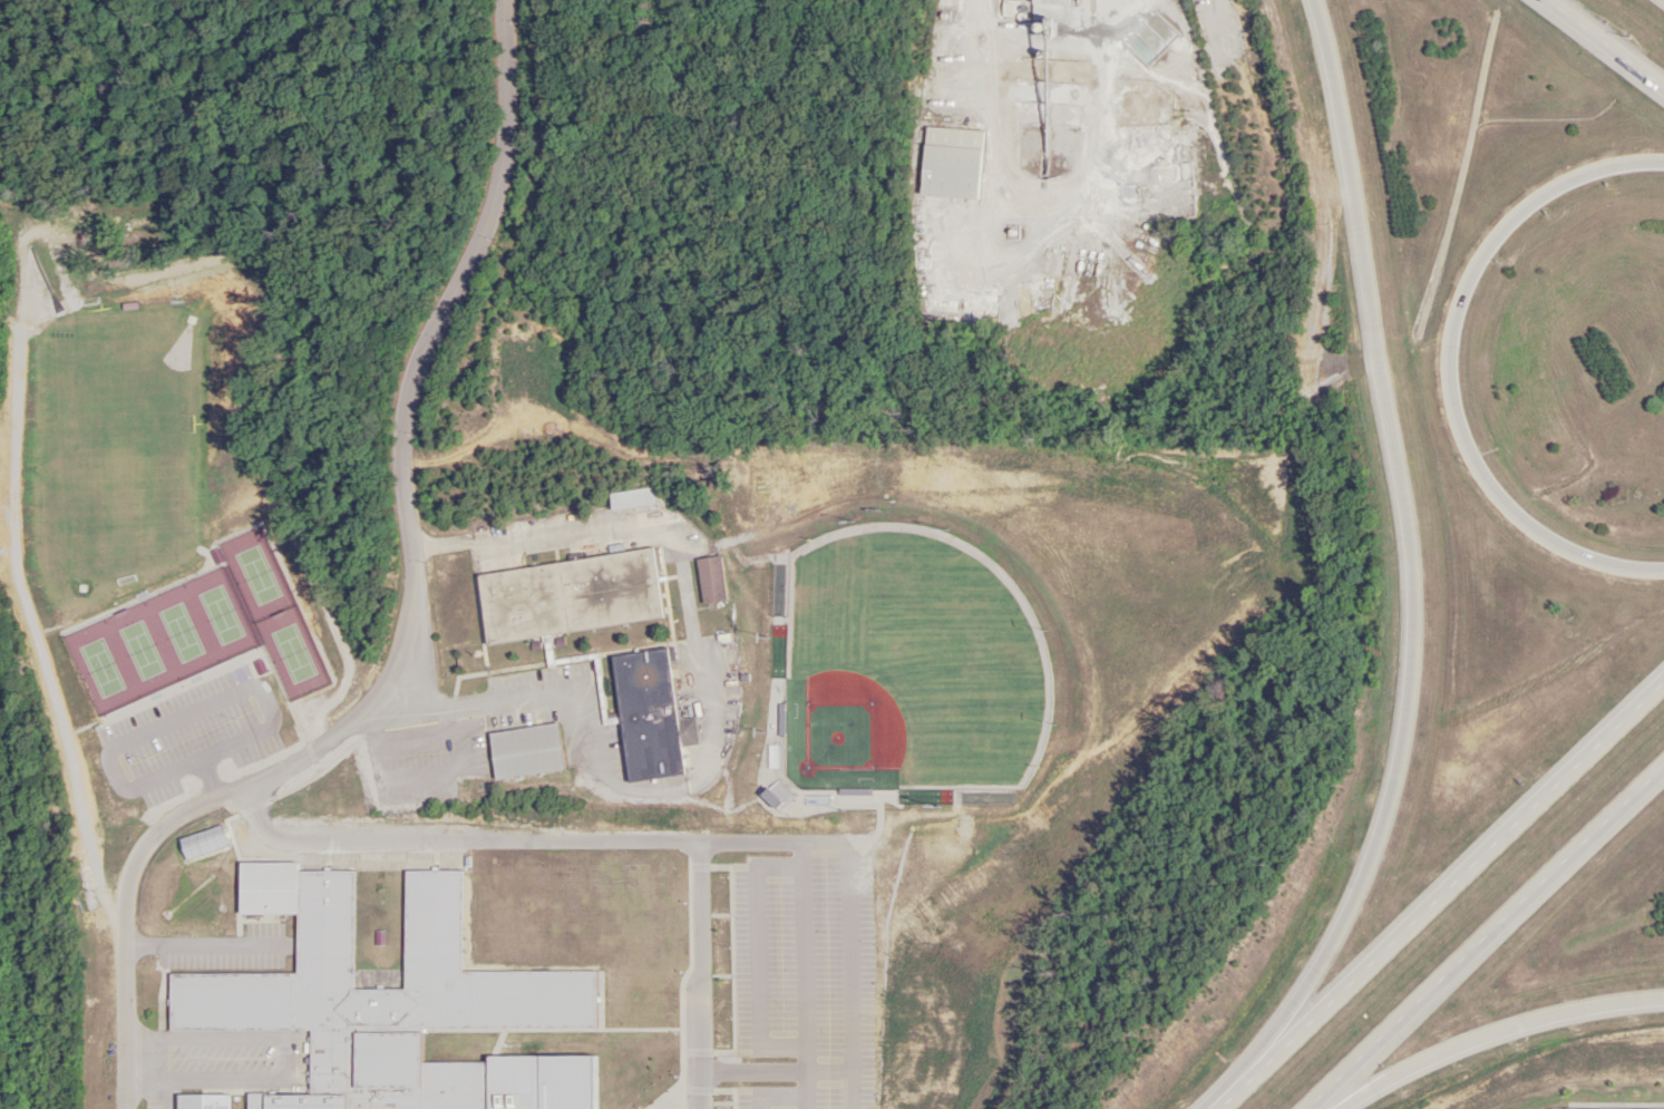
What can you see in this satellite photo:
building: (1049, 2)
road: (1604, 46)
building: (948, 165)
road: (1449, 371)
building: (631, 499)
road: (537, 537)
road: (407, 543)
road: (1409, 566)
building: (709, 580)
building: (567, 597)
park: (908, 664)
building: (649, 716)
building: (524, 750)
road: (81, 805)
road: (455, 842)
building: (206, 845)
road: (1446, 886)
road: (1486, 935)
road: (691, 975)
building: (379, 1002)
road: (1491, 1035)
road: (1223, 1103)

